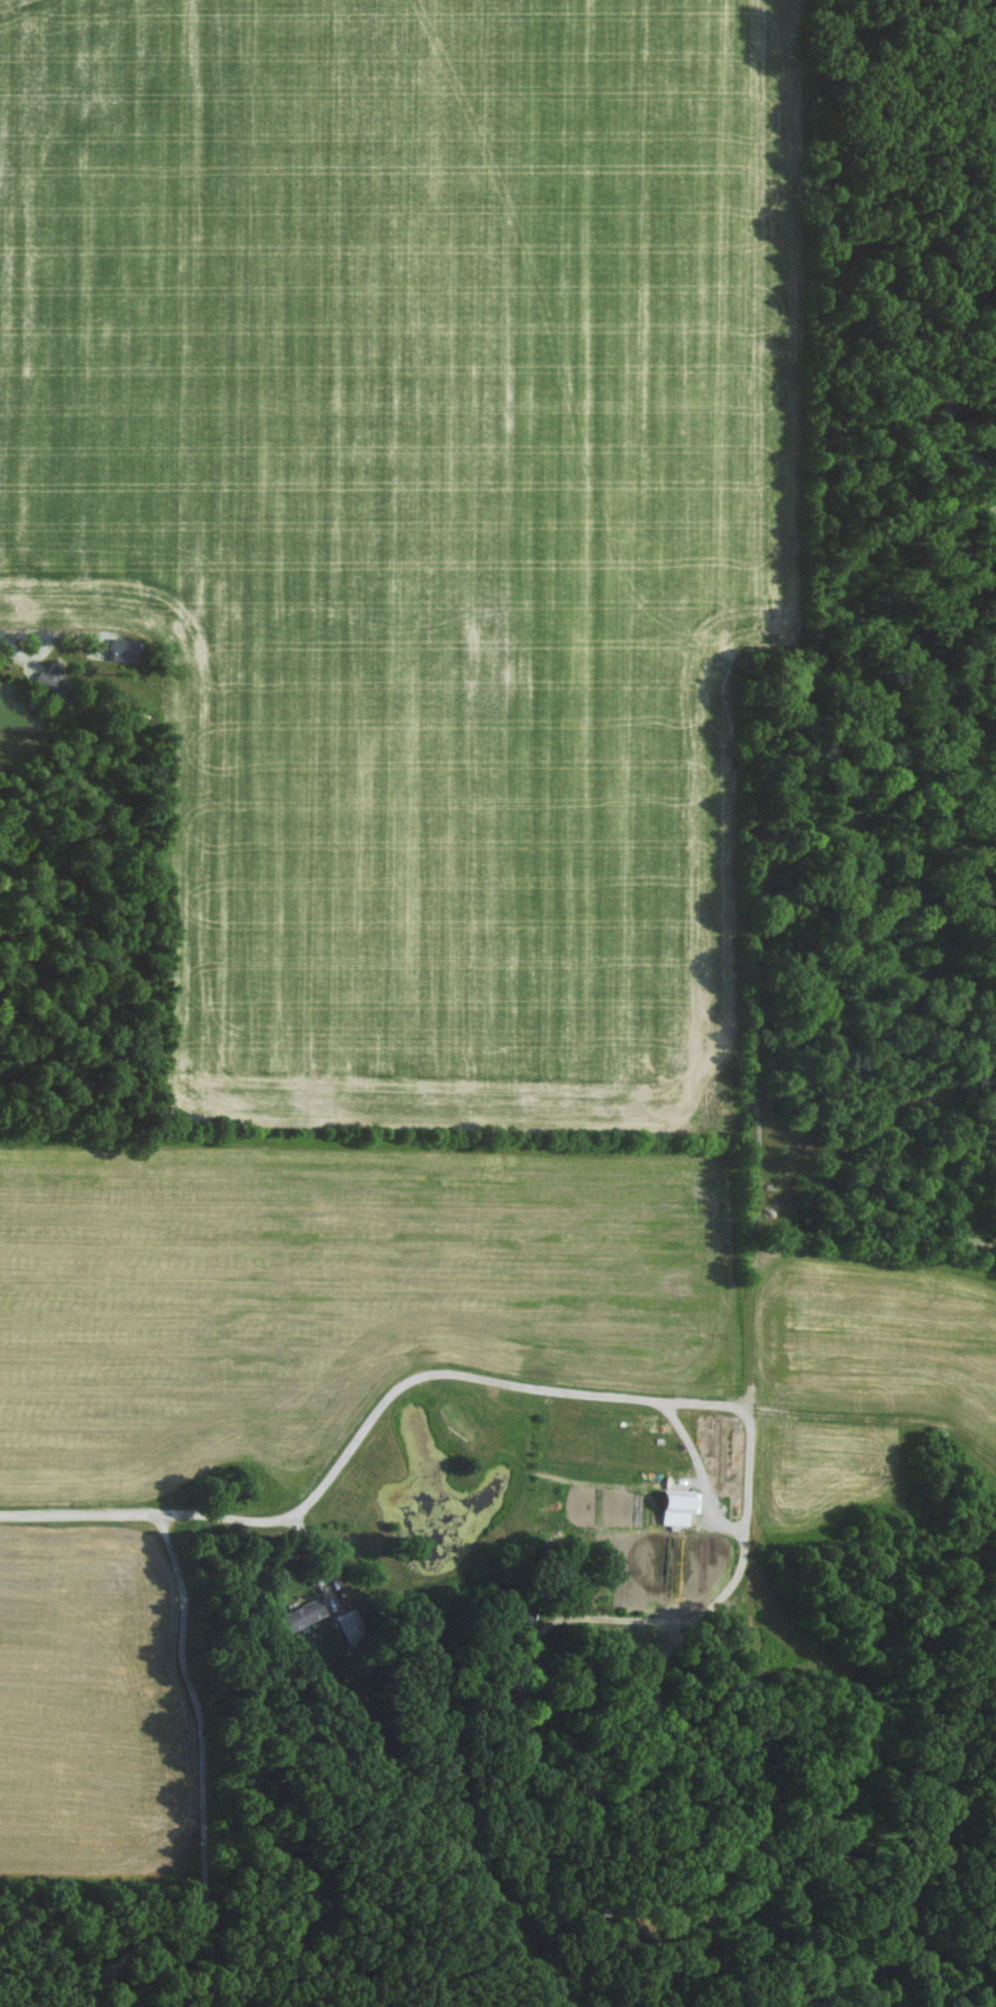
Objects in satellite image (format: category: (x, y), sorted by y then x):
road: (5, 634)
building: (124, 648)
road: (43, 652)
building: (54, 684)
road: (471, 1379)
road: (888, 1384)
building: (679, 1505)
road: (724, 1525)
building: (303, 1613)
building: (353, 1626)
road: (660, 1712)

